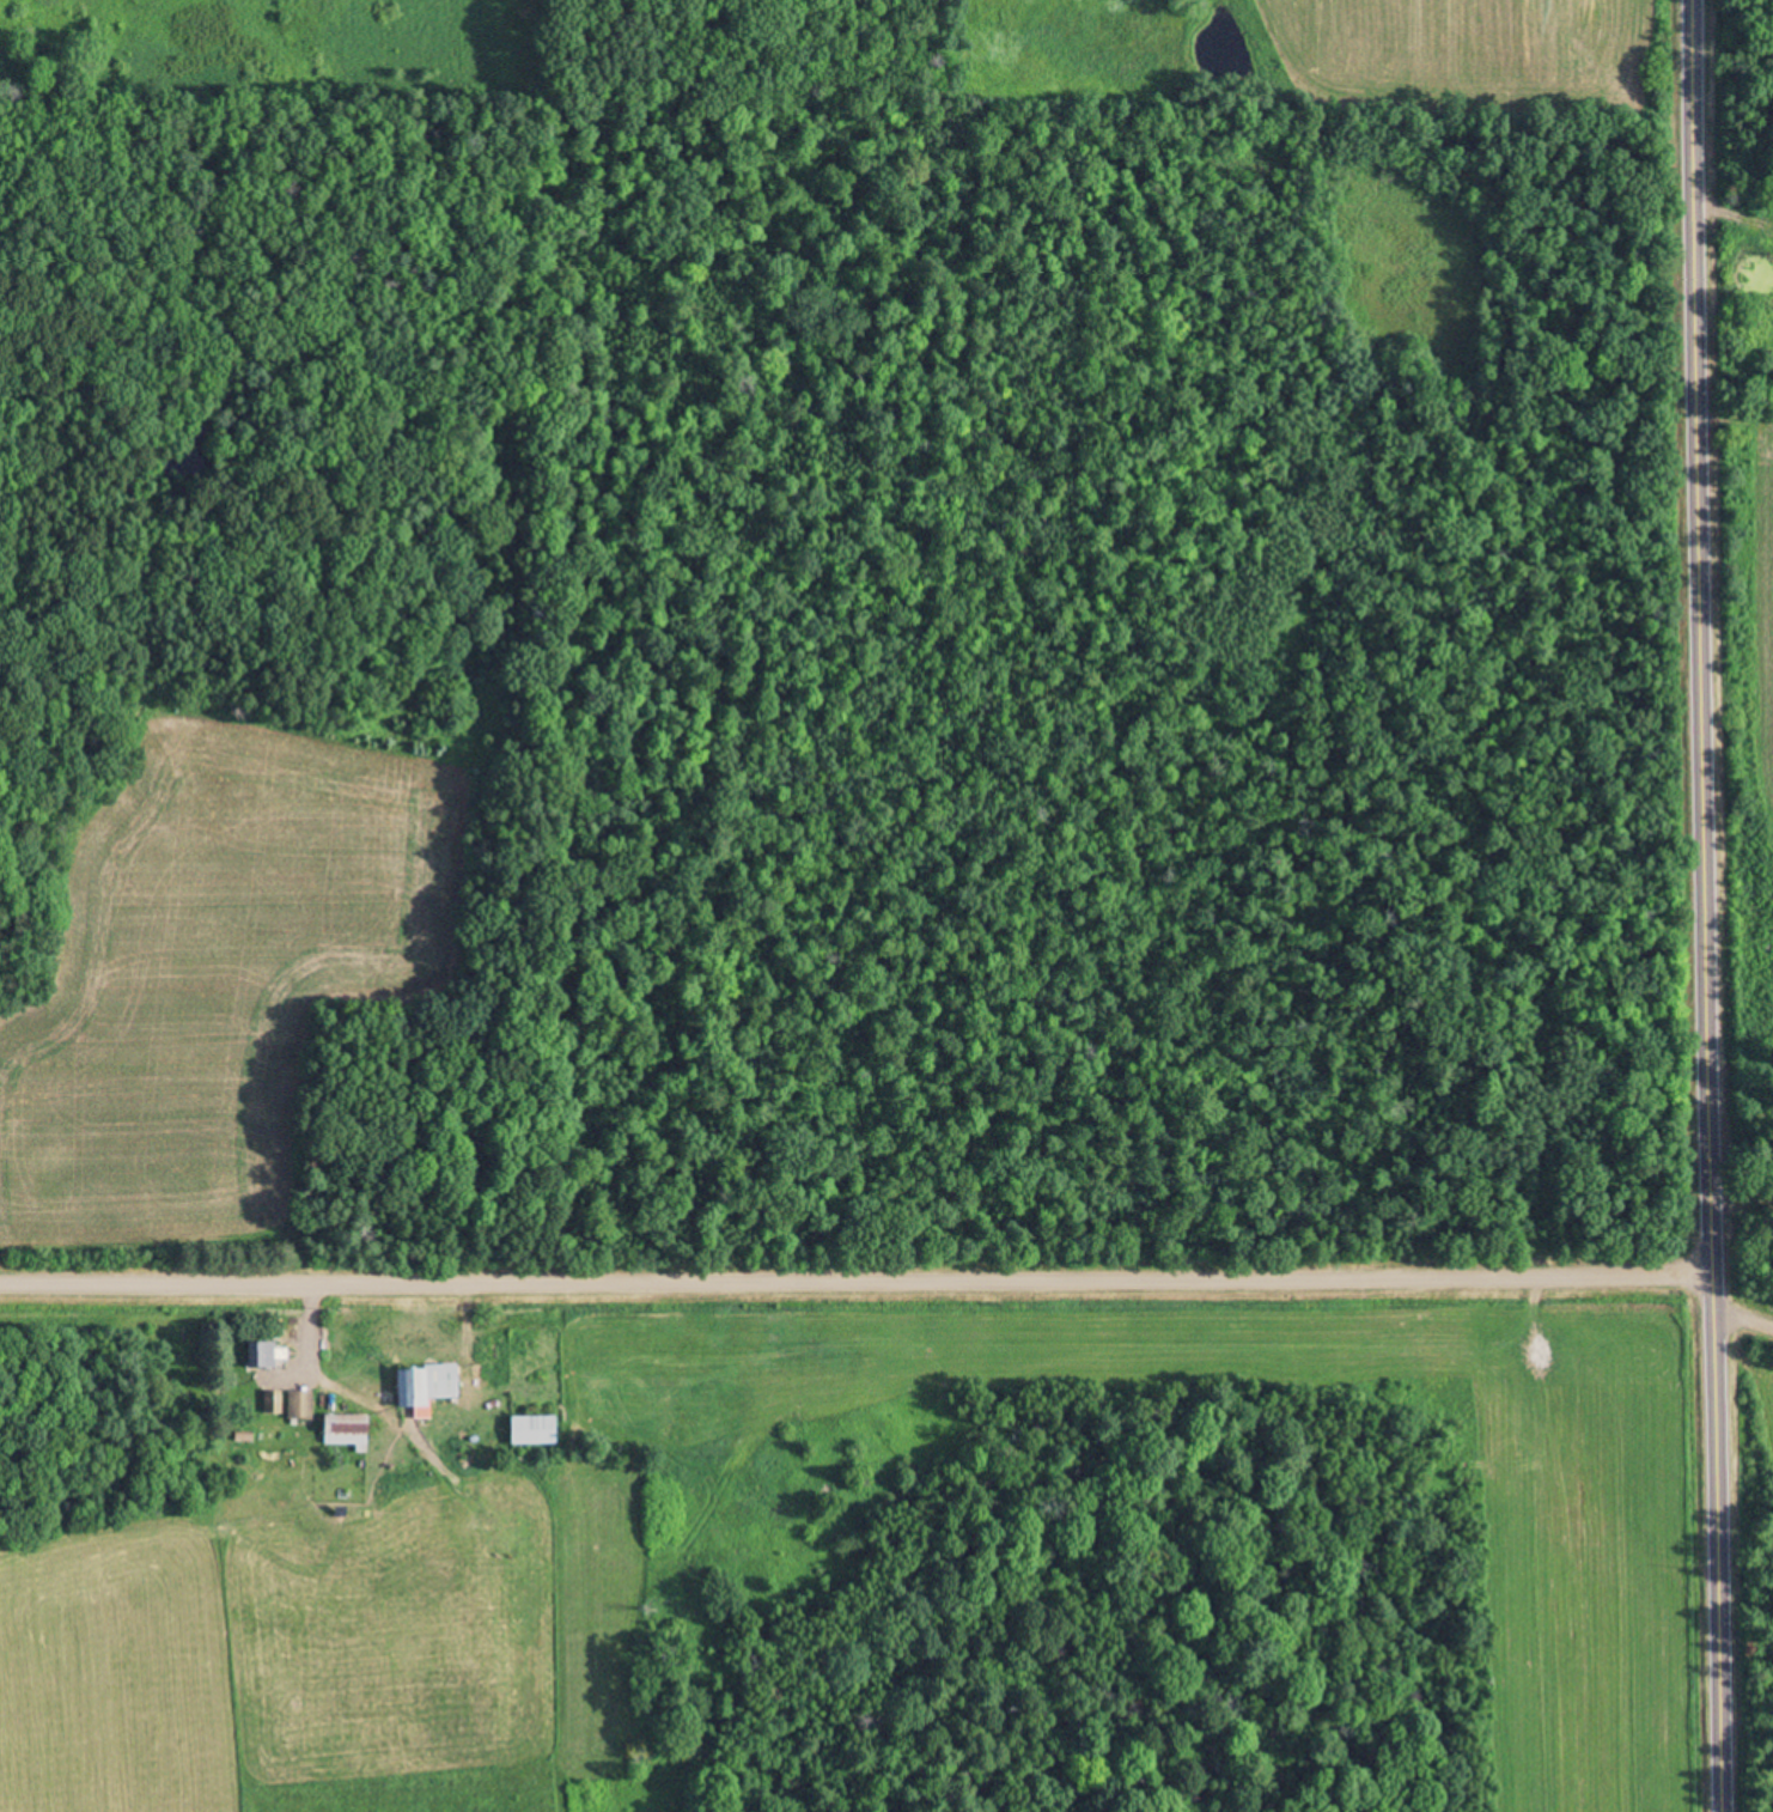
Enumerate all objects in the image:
road: (1734, 219)
road: (1704, 906)
road: (854, 1285)
building: (257, 1356)
building: (422, 1387)
building: (270, 1404)
building: (298, 1406)
building: (343, 1433)
building: (530, 1433)

